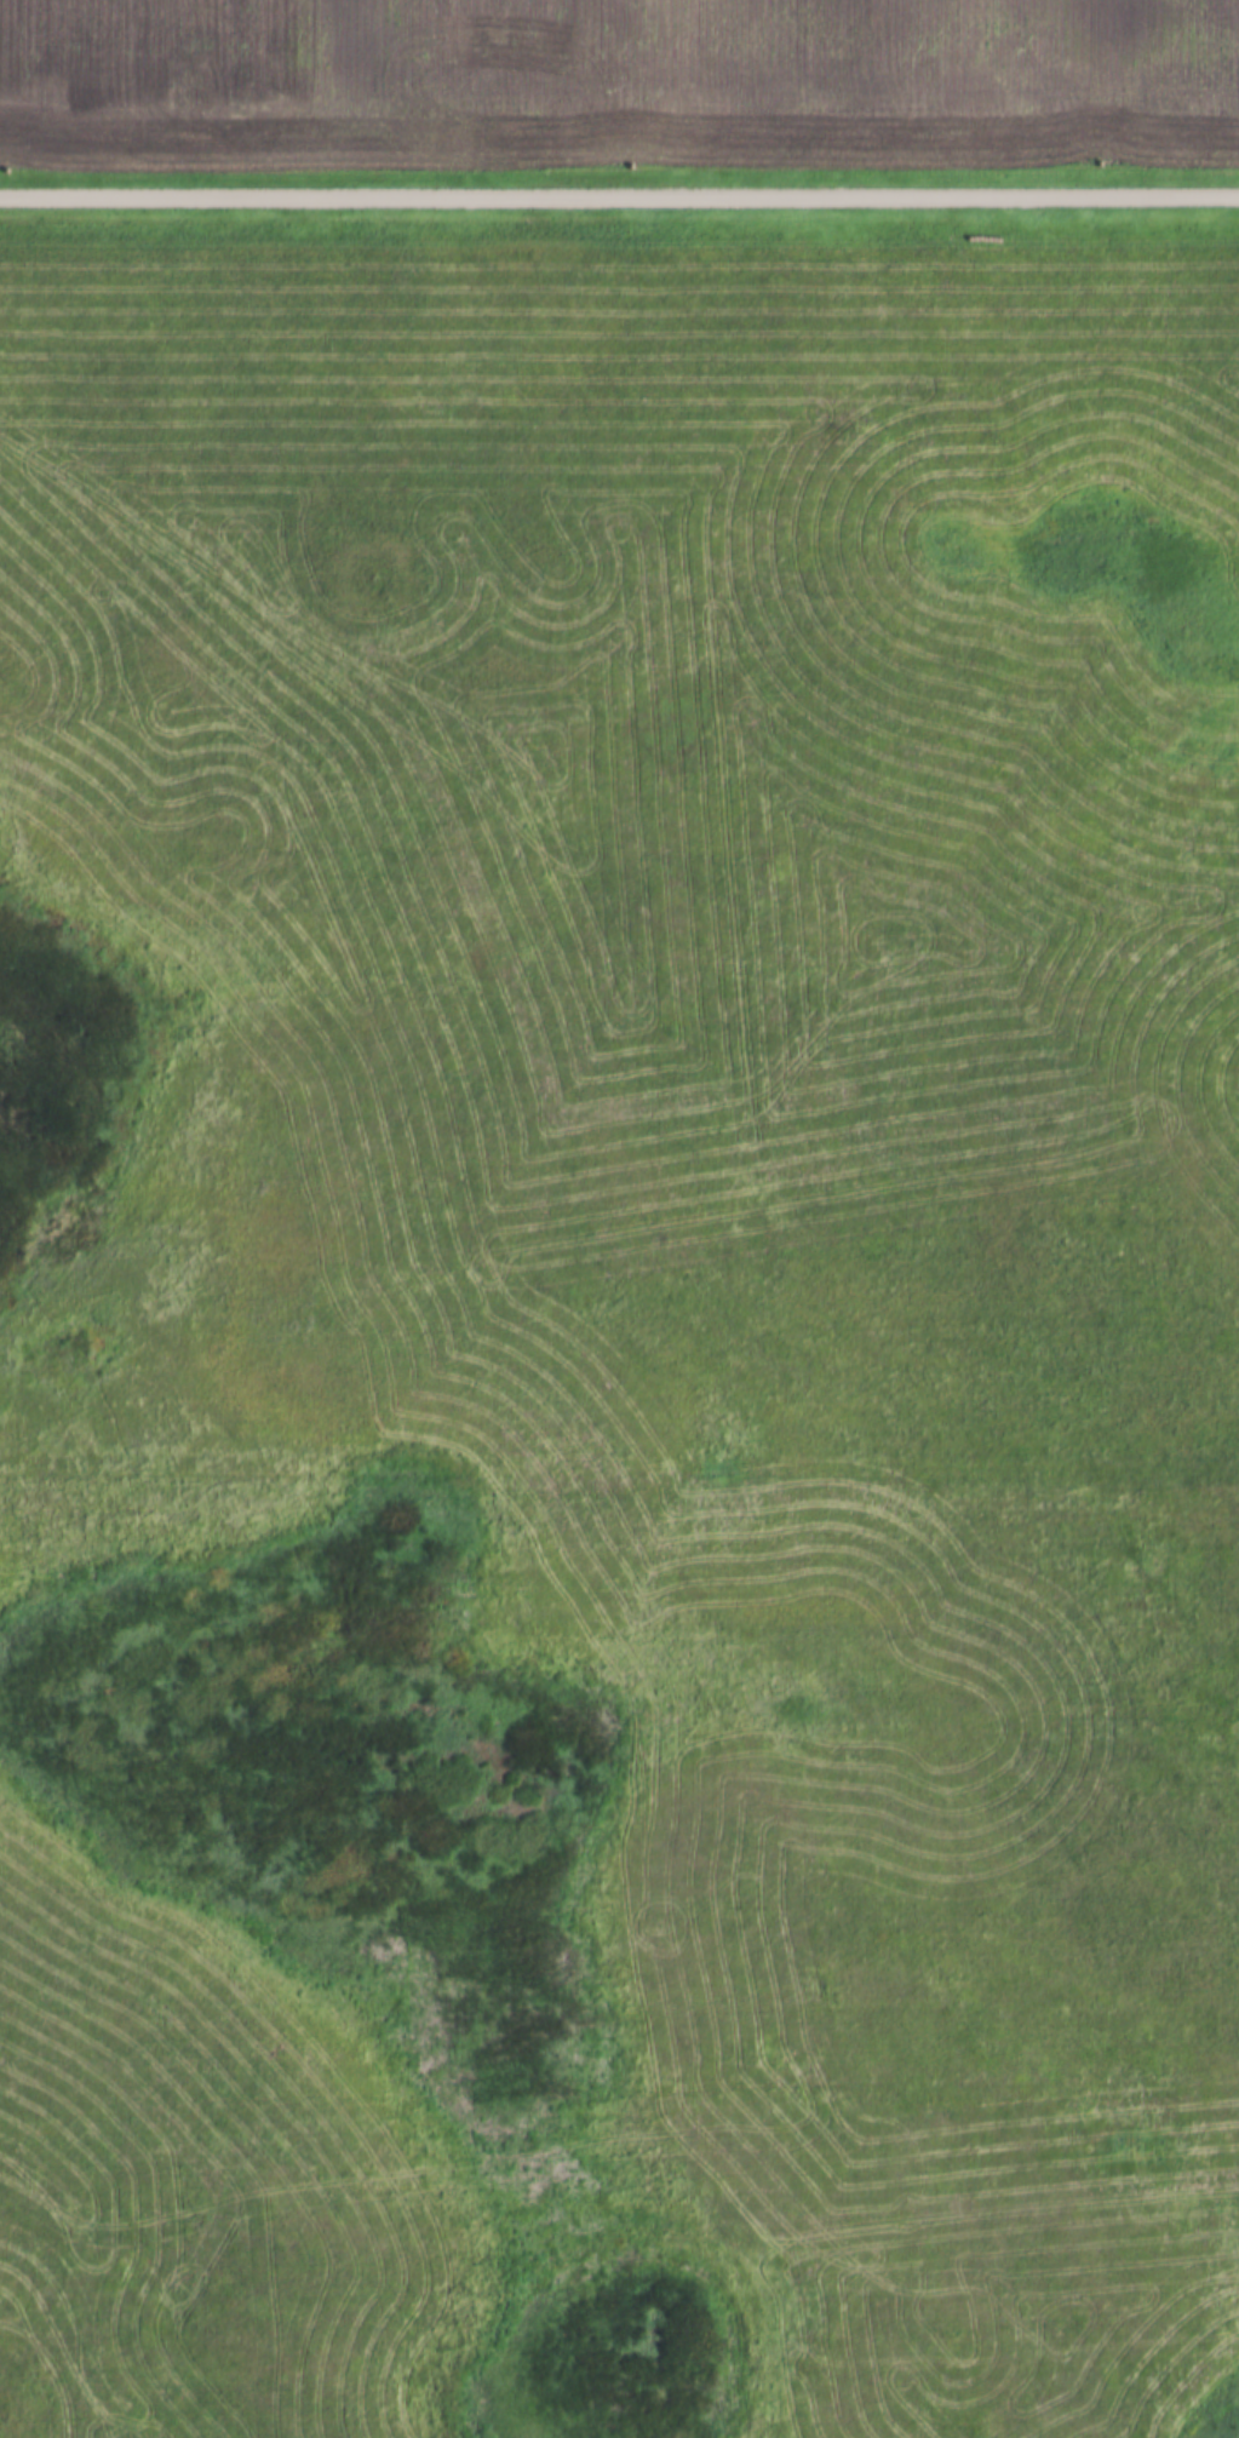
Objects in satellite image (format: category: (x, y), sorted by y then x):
road: (619, 193)

